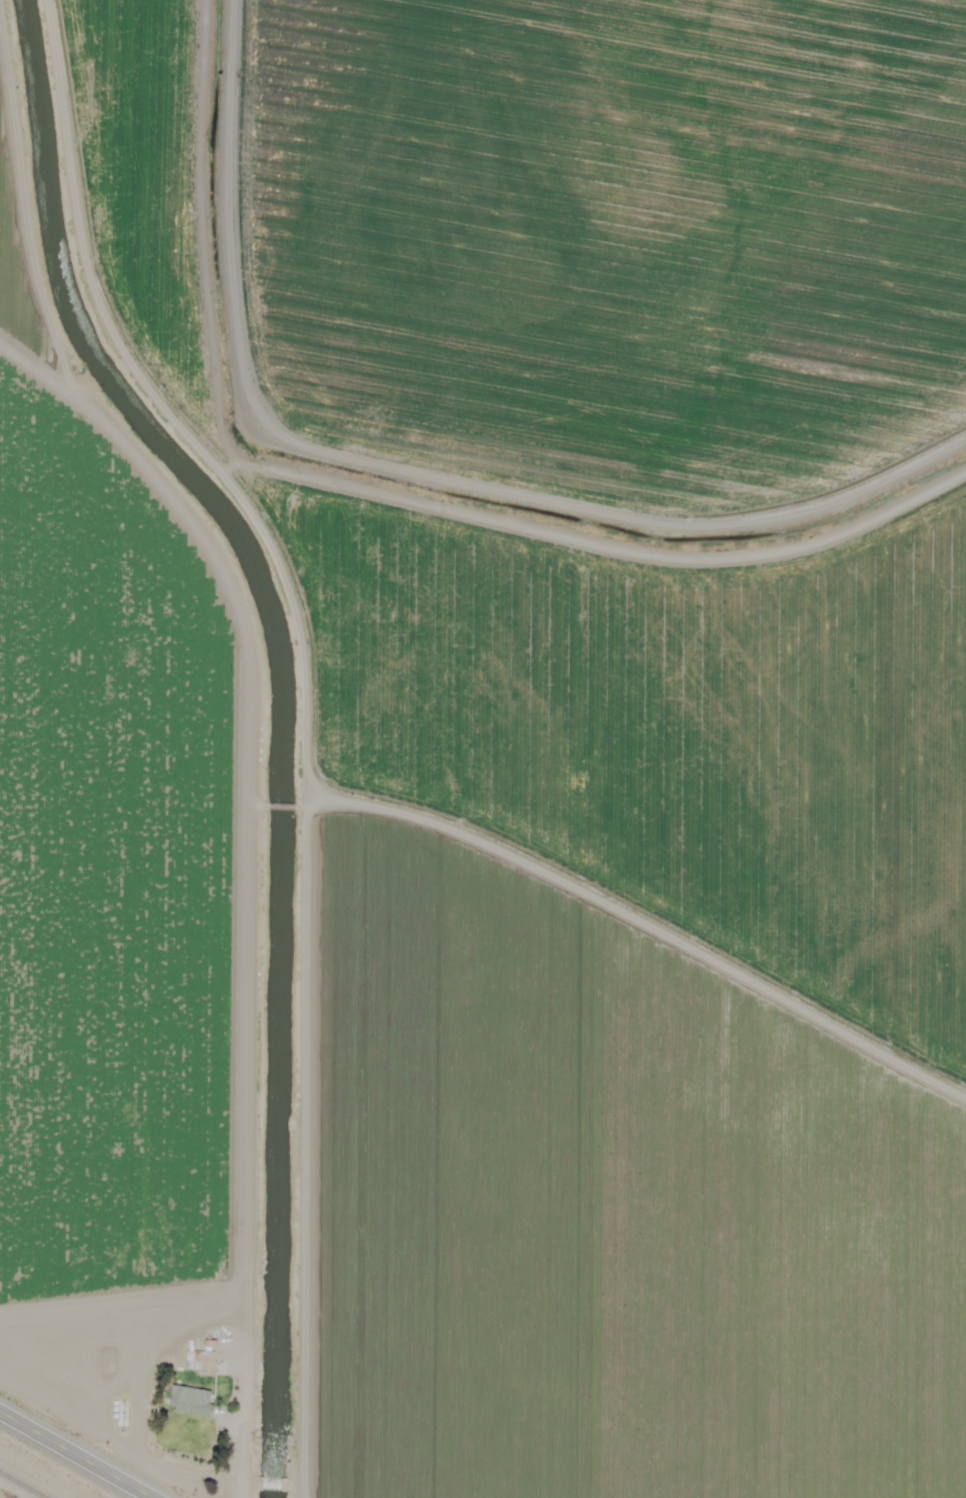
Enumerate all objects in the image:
crop: (602, 423)
road: (303, 713)
crop: (111, 844)
road: (647, 936)
crop: (622, 1234)
road: (73, 1456)
railway: (20, 1486)

